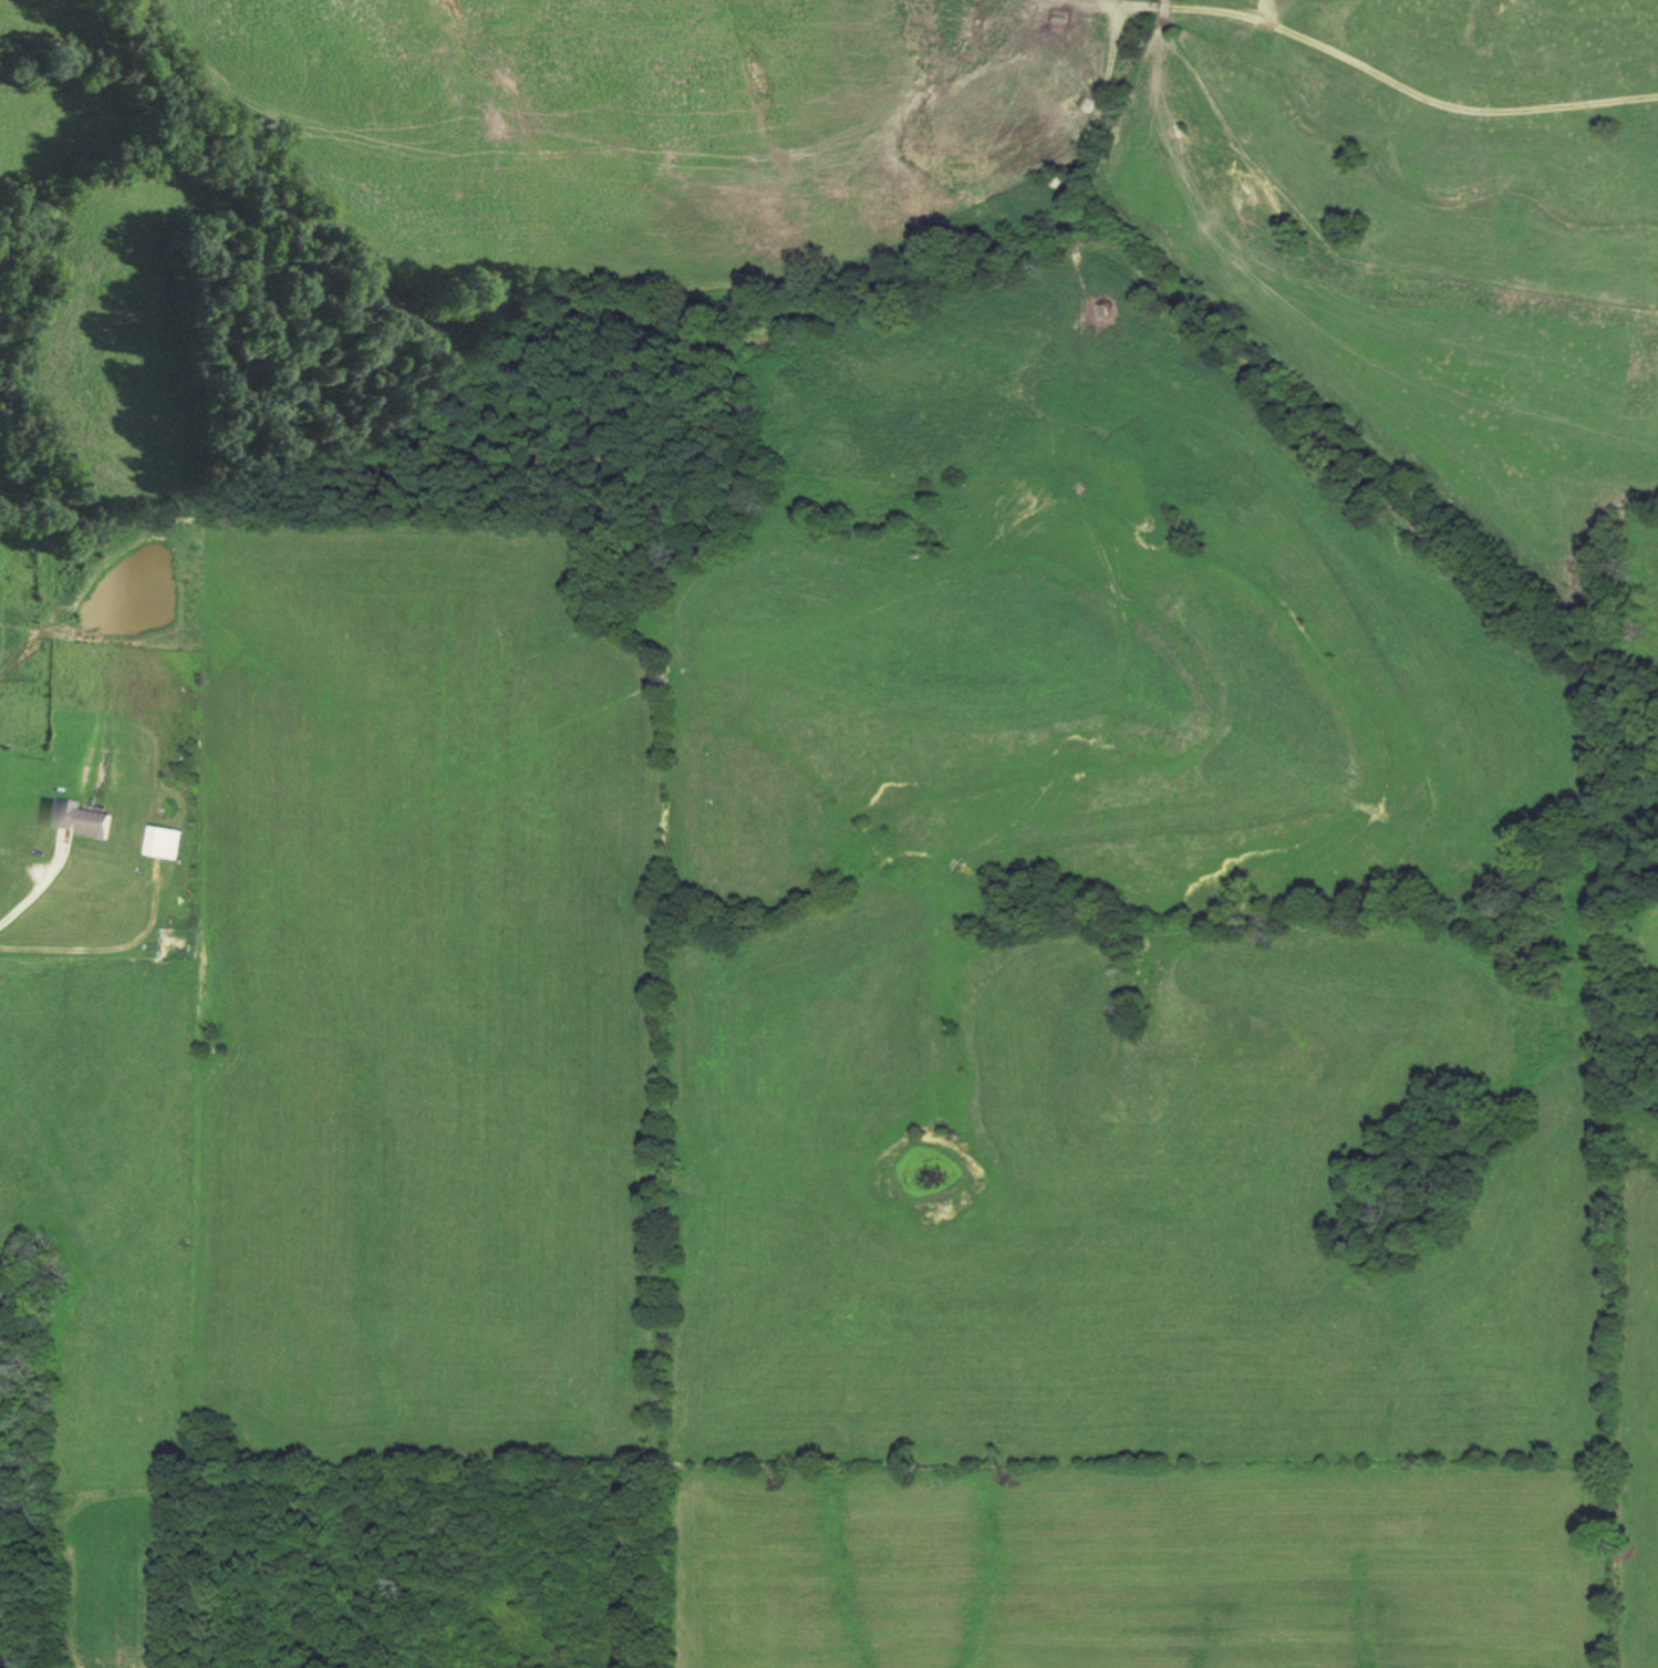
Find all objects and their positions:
building: (76, 818)
road: (12, 883)

